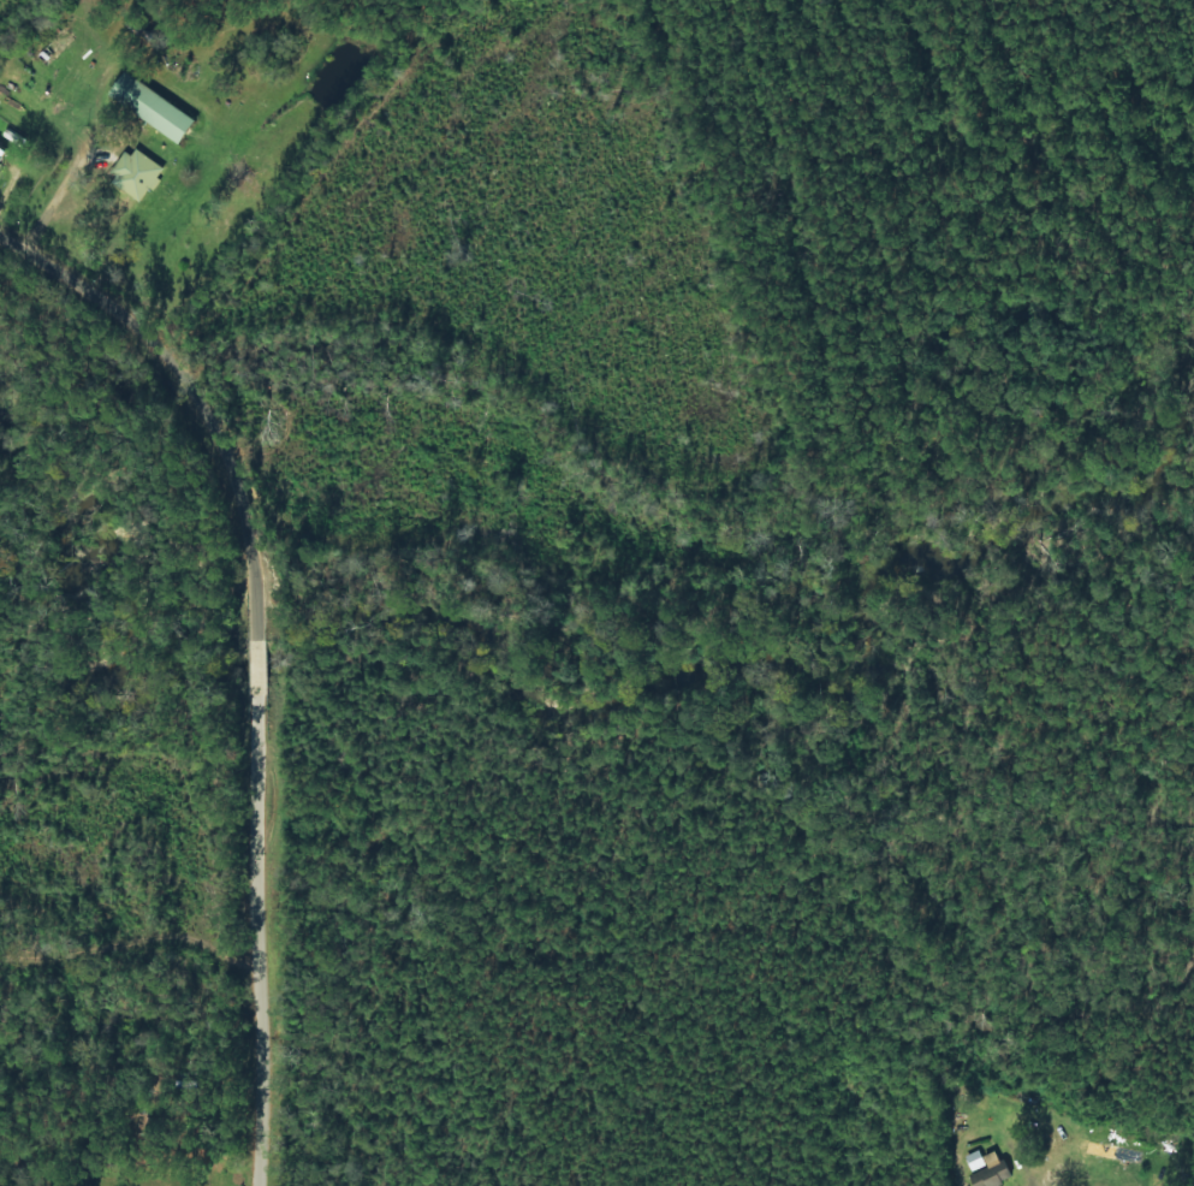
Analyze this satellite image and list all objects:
building: (152, 105)
building: (135, 173)
road: (147, 450)
road: (248, 670)
road: (251, 942)
building: (974, 1160)
building: (991, 1172)

